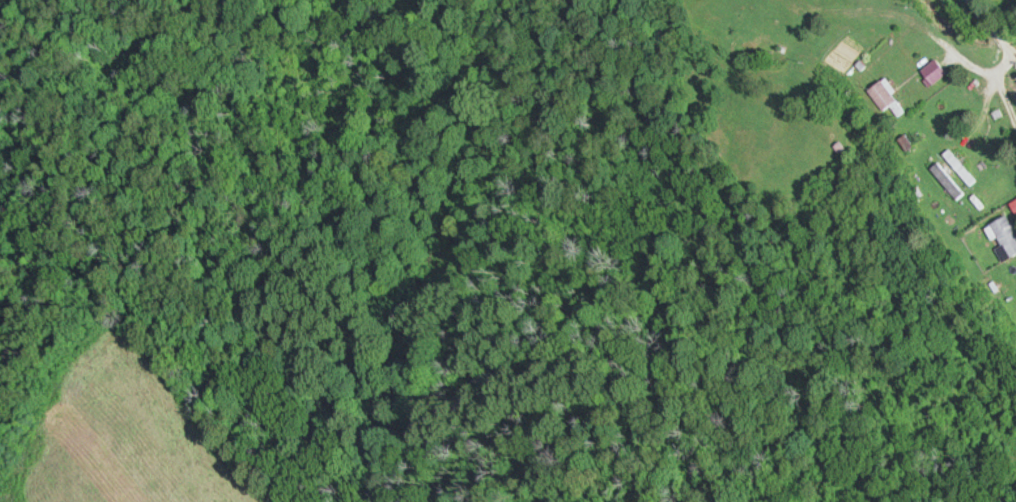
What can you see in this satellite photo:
road: (989, 31)
road: (1013, 56)
road: (964, 68)
building: (929, 72)
building: (880, 97)
building: (943, 181)
building: (1001, 238)

